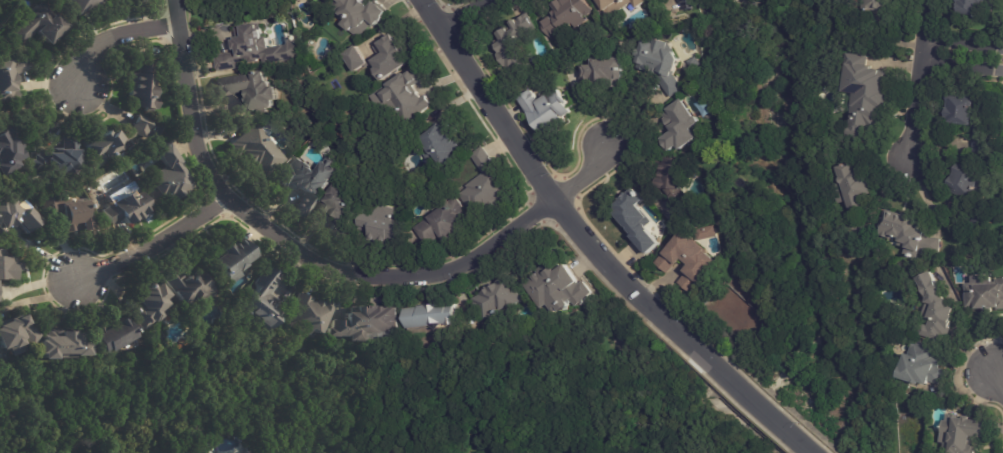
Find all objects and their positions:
building: (115, 0)
building: (207, 0)
building: (299, 0)
building: (327, 0)
building: (590, 0)
building: (913, 0)
building: (995, 0)
building: (83, 4)
building: (688, 4)
building: (612, 5)
building: (880, 5)
building: (976, 7)
road: (461, 12)
building: (360, 14)
building: (561, 15)
building: (40, 24)
road: (115, 35)
building: (510, 43)
building: (219, 47)
building: (255, 50)
road: (964, 51)
building: (382, 58)
building: (696, 62)
building: (663, 64)
building: (609, 70)
road: (918, 75)
building: (11, 77)
building: (145, 86)
building: (252, 90)
building: (407, 93)
building: (859, 96)
building: (710, 107)
building: (550, 109)
building: (961, 117)
building: (675, 124)
building: (112, 145)
building: (444, 146)
building: (10, 147)
building: (259, 150)
building: (60, 157)
building: (169, 177)
building: (670, 178)
building: (962, 178)
building: (308, 183)
building: (487, 185)
building: (856, 207)
building: (129, 208)
building: (69, 212)
building: (17, 213)
building: (341, 214)
building: (631, 218)
building: (446, 224)
building: (979, 224)
building: (386, 225)
building: (899, 227)
building: (707, 233)
road: (153, 242)
road: (592, 246)
building: (932, 246)
building: (234, 260)
building: (682, 261)
road: (324, 264)
building: (8, 267)
building: (189, 288)
building: (557, 290)
building: (985, 296)
building: (496, 298)
building: (264, 303)
building: (151, 305)
building: (933, 310)
building: (312, 315)
building: (430, 317)
building: (368, 324)
building: (17, 335)
building: (115, 336)
building: (65, 347)
building: (920, 365)
road: (1000, 374)
building: (962, 434)
building: (253, 452)

